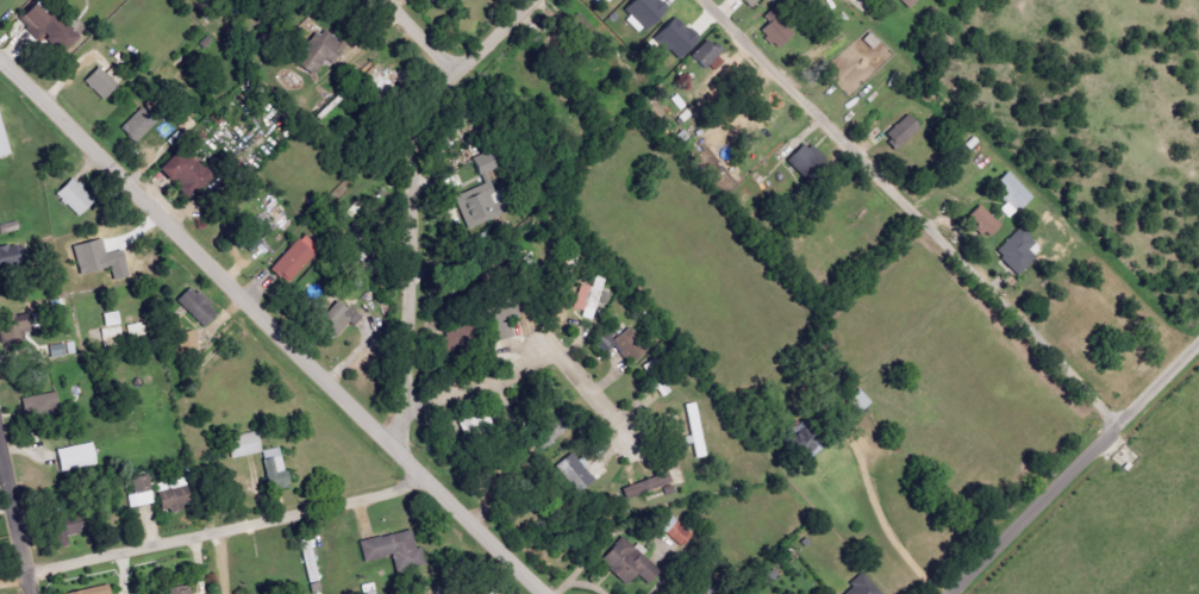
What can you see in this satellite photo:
building: (614, 0)
building: (748, 2)
building: (908, 2)
building: (644, 11)
building: (45, 26)
building: (581, 26)
building: (775, 32)
road: (423, 38)
building: (675, 38)
building: (318, 51)
building: (705, 55)
building: (99, 83)
building: (136, 126)
building: (901, 131)
building: (4, 140)
building: (804, 160)
building: (483, 163)
building: (183, 170)
building: (1011, 194)
building: (74, 198)
road: (406, 201)
building: (475, 206)
road: (907, 210)
building: (982, 221)
building: (250, 238)
building: (1010, 248)
building: (2, 256)
building: (96, 258)
building: (293, 261)
building: (592, 298)
building: (195, 307)
building: (504, 315)
building: (337, 318)
building: (111, 325)
building: (10, 329)
road: (267, 330)
building: (451, 339)
building: (186, 342)
building: (622, 344)
road: (530, 367)
building: (661, 388)
building: (855, 402)
building: (39, 404)
building: (694, 430)
building: (545, 434)
building: (795, 442)
building: (244, 445)
building: (76, 457)
road: (1072, 465)
building: (274, 468)
building: (573, 473)
building: (644, 486)
building: (140, 492)
building: (169, 496)
road: (18, 511)
road: (886, 523)
building: (61, 530)
road: (212, 531)
building: (676, 531)
building: (394, 551)
building: (308, 559)
building: (626, 567)
building: (861, 587)
building: (90, 590)
building: (180, 590)
building: (480, 592)

